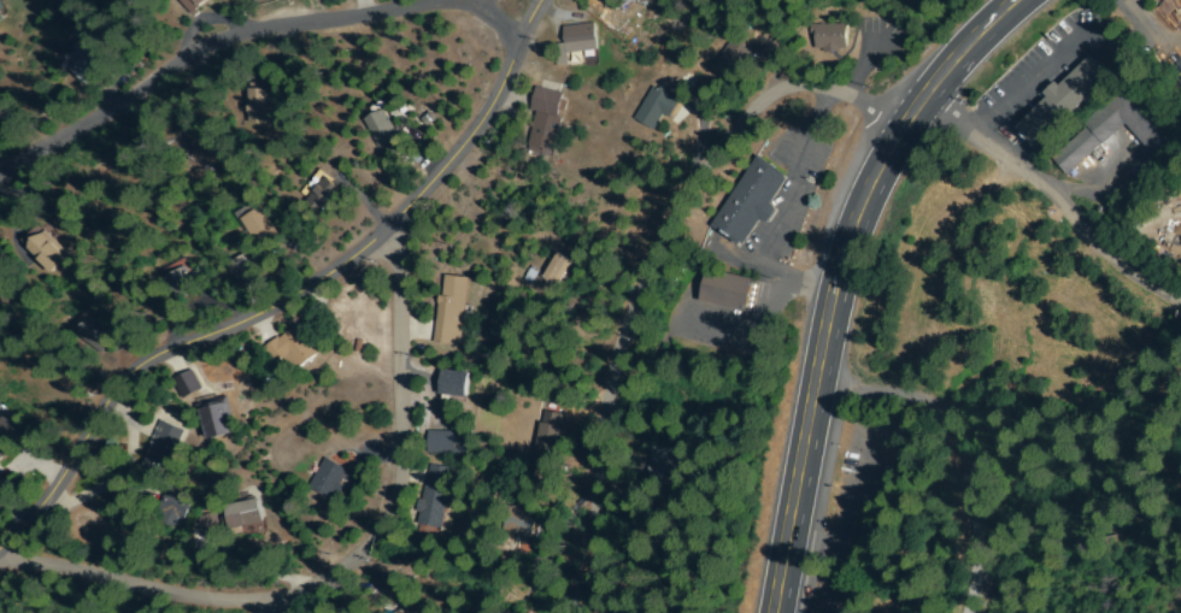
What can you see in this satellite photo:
road: (447, 1)
building: (189, 4)
building: (619, 4)
building: (1, 14)
road: (249, 35)
building: (829, 37)
building: (575, 41)
building: (90, 60)
building: (731, 61)
building: (1063, 102)
building: (258, 104)
building: (653, 108)
road: (948, 113)
building: (545, 120)
building: (380, 124)
building: (1152, 125)
building: (206, 153)
building: (323, 198)
building: (750, 201)
road: (1074, 213)
building: (257, 224)
building: (46, 249)
building: (1136, 249)
road: (659, 266)
building: (556, 269)
building: (242, 272)
road: (842, 279)
building: (181, 282)
building: (728, 289)
building: (4, 291)
road: (921, 294)
road: (294, 297)
building: (451, 310)
building: (93, 334)
building: (292, 349)
building: (1171, 372)
building: (454, 383)
building: (187, 384)
building: (221, 426)
building: (551, 434)
building: (6, 438)
building: (450, 442)
road: (959, 447)
building: (163, 453)
building: (662, 464)
building: (327, 481)
building: (434, 499)
building: (170, 508)
building: (243, 519)
building: (206, 525)
building: (527, 527)
road: (345, 566)
building: (845, 599)
road: (290, 609)
building: (405, 611)

